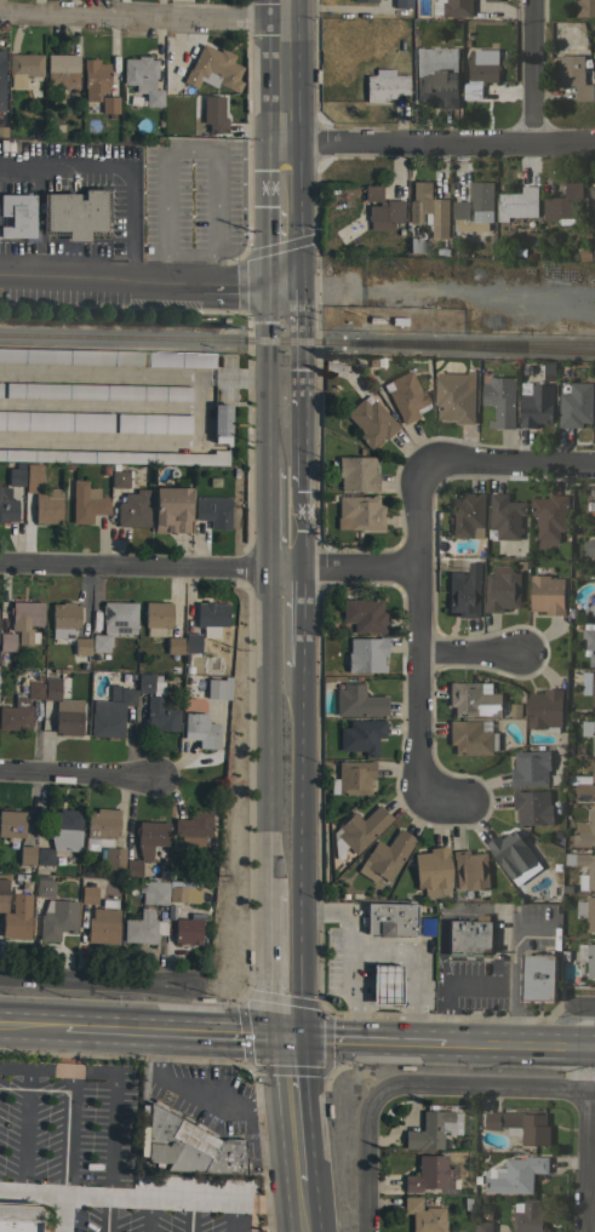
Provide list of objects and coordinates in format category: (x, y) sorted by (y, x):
building: (364, 0)
building: (492, 0)
building: (402, 4)
building: (456, 7)
building: (585, 7)
road: (142, 18)
building: (594, 45)
building: (23, 67)
building: (211, 68)
road: (284, 71)
building: (480, 71)
road: (532, 71)
building: (576, 71)
building: (61, 73)
building: (436, 75)
building: (143, 78)
building: (95, 79)
building: (1, 80)
building: (384, 85)
building: (109, 105)
building: (213, 114)
road: (440, 143)
road: (103, 167)
road: (286, 176)
building: (591, 196)
building: (517, 202)
building: (475, 204)
building: (562, 204)
building: (381, 208)
building: (428, 208)
building: (75, 213)
building: (16, 216)
road: (287, 243)
building: (412, 243)
road: (62, 250)
building: (441, 250)
building: (452, 252)
building: (460, 252)
building: (594, 254)
road: (124, 263)
road: (143, 276)
traffic signals: (287, 280)
railway: (176, 337)
railway: (474, 343)
railway: (474, 346)
building: (107, 357)
building: (378, 360)
building: (370, 361)
building: (548, 369)
building: (526, 371)
road: (102, 373)
road: (286, 373)
road: (245, 374)
building: (0, 389)
building: (97, 391)
building: (406, 396)
building: (454, 396)
building: (499, 400)
building: (576, 405)
building: (594, 405)
building: (537, 406)
building: (55, 420)
building: (370, 422)
building: (153, 423)
building: (221, 423)
road: (135, 441)
building: (115, 457)
road: (514, 464)
building: (33, 472)
building: (355, 472)
building: (15, 476)
road: (287, 479)
building: (119, 480)
building: (86, 502)
building: (7, 505)
building: (47, 506)
building: (590, 508)
building: (132, 509)
building: (171, 509)
building: (213, 510)
building: (359, 512)
building: (593, 514)
building: (468, 515)
building: (550, 515)
building: (505, 516)
road: (287, 528)
building: (589, 548)
building: (560, 549)
building: (520, 565)
road: (211, 566)
building: (344, 589)
building: (502, 589)
building: (464, 591)
building: (547, 594)
building: (591, 611)
building: (364, 615)
building: (210, 617)
road: (288, 617)
building: (119, 618)
building: (156, 618)
building: (24, 619)
building: (63, 619)
building: (6, 641)
building: (191, 642)
building: (99, 643)
building: (589, 643)
building: (81, 646)
building: (173, 646)
road: (422, 652)
road: (471, 654)
building: (366, 655)
building: (588, 684)
building: (218, 688)
building: (473, 699)
building: (357, 701)
building: (156, 705)
building: (19, 706)
building: (63, 710)
building: (514, 710)
building: (545, 710)
building: (110, 712)
building: (200, 729)
building: (589, 730)
building: (361, 735)
building: (471, 738)
building: (530, 768)
road: (80, 773)
building: (351, 778)
road: (288, 779)
building: (584, 784)
building: (567, 800)
building: (532, 807)
building: (11, 823)
building: (101, 827)
building: (64, 829)
building: (193, 829)
building: (357, 830)
building: (585, 831)
building: (145, 844)
building: (511, 852)
building: (25, 854)
building: (387, 854)
building: (44, 856)
building: (113, 860)
building: (557, 867)
building: (590, 869)
building: (470, 870)
building: (431, 871)
building: (44, 886)
building: (565, 889)
building: (153, 892)
building: (183, 892)
building: (87, 894)
building: (588, 911)
building: (15, 913)
building: (56, 918)
building: (387, 921)
building: (103, 923)
building: (142, 927)
building: (424, 927)
building: (187, 930)
building: (467, 938)
road: (355, 950)
building: (587, 958)
road: (287, 965)
road: (513, 965)
building: (540, 973)
road: (95, 982)
building: (382, 986)
road: (351, 995)
road: (445, 1004)
road: (585, 1009)
road: (408, 1019)
road: (33, 1026)
road: (176, 1032)
traffic signals: (287, 1038)
road: (319, 1038)
road: (396, 1041)
road: (517, 1045)
road: (65, 1049)
road: (291, 1071)
road: (593, 1071)
road: (484, 1090)
road: (204, 1094)
building: (520, 1125)
building: (431, 1129)
road: (298, 1144)
building: (188, 1146)
road: (588, 1164)
road: (370, 1165)
road: (113, 1170)
building: (430, 1174)
building: (515, 1174)
road: (56, 1190)
road: (302, 1190)
road: (58, 1211)
road: (102, 1213)
road: (304, 1214)
building: (423, 1215)
building: (18, 1216)
building: (528, 1216)
building: (482, 1226)

